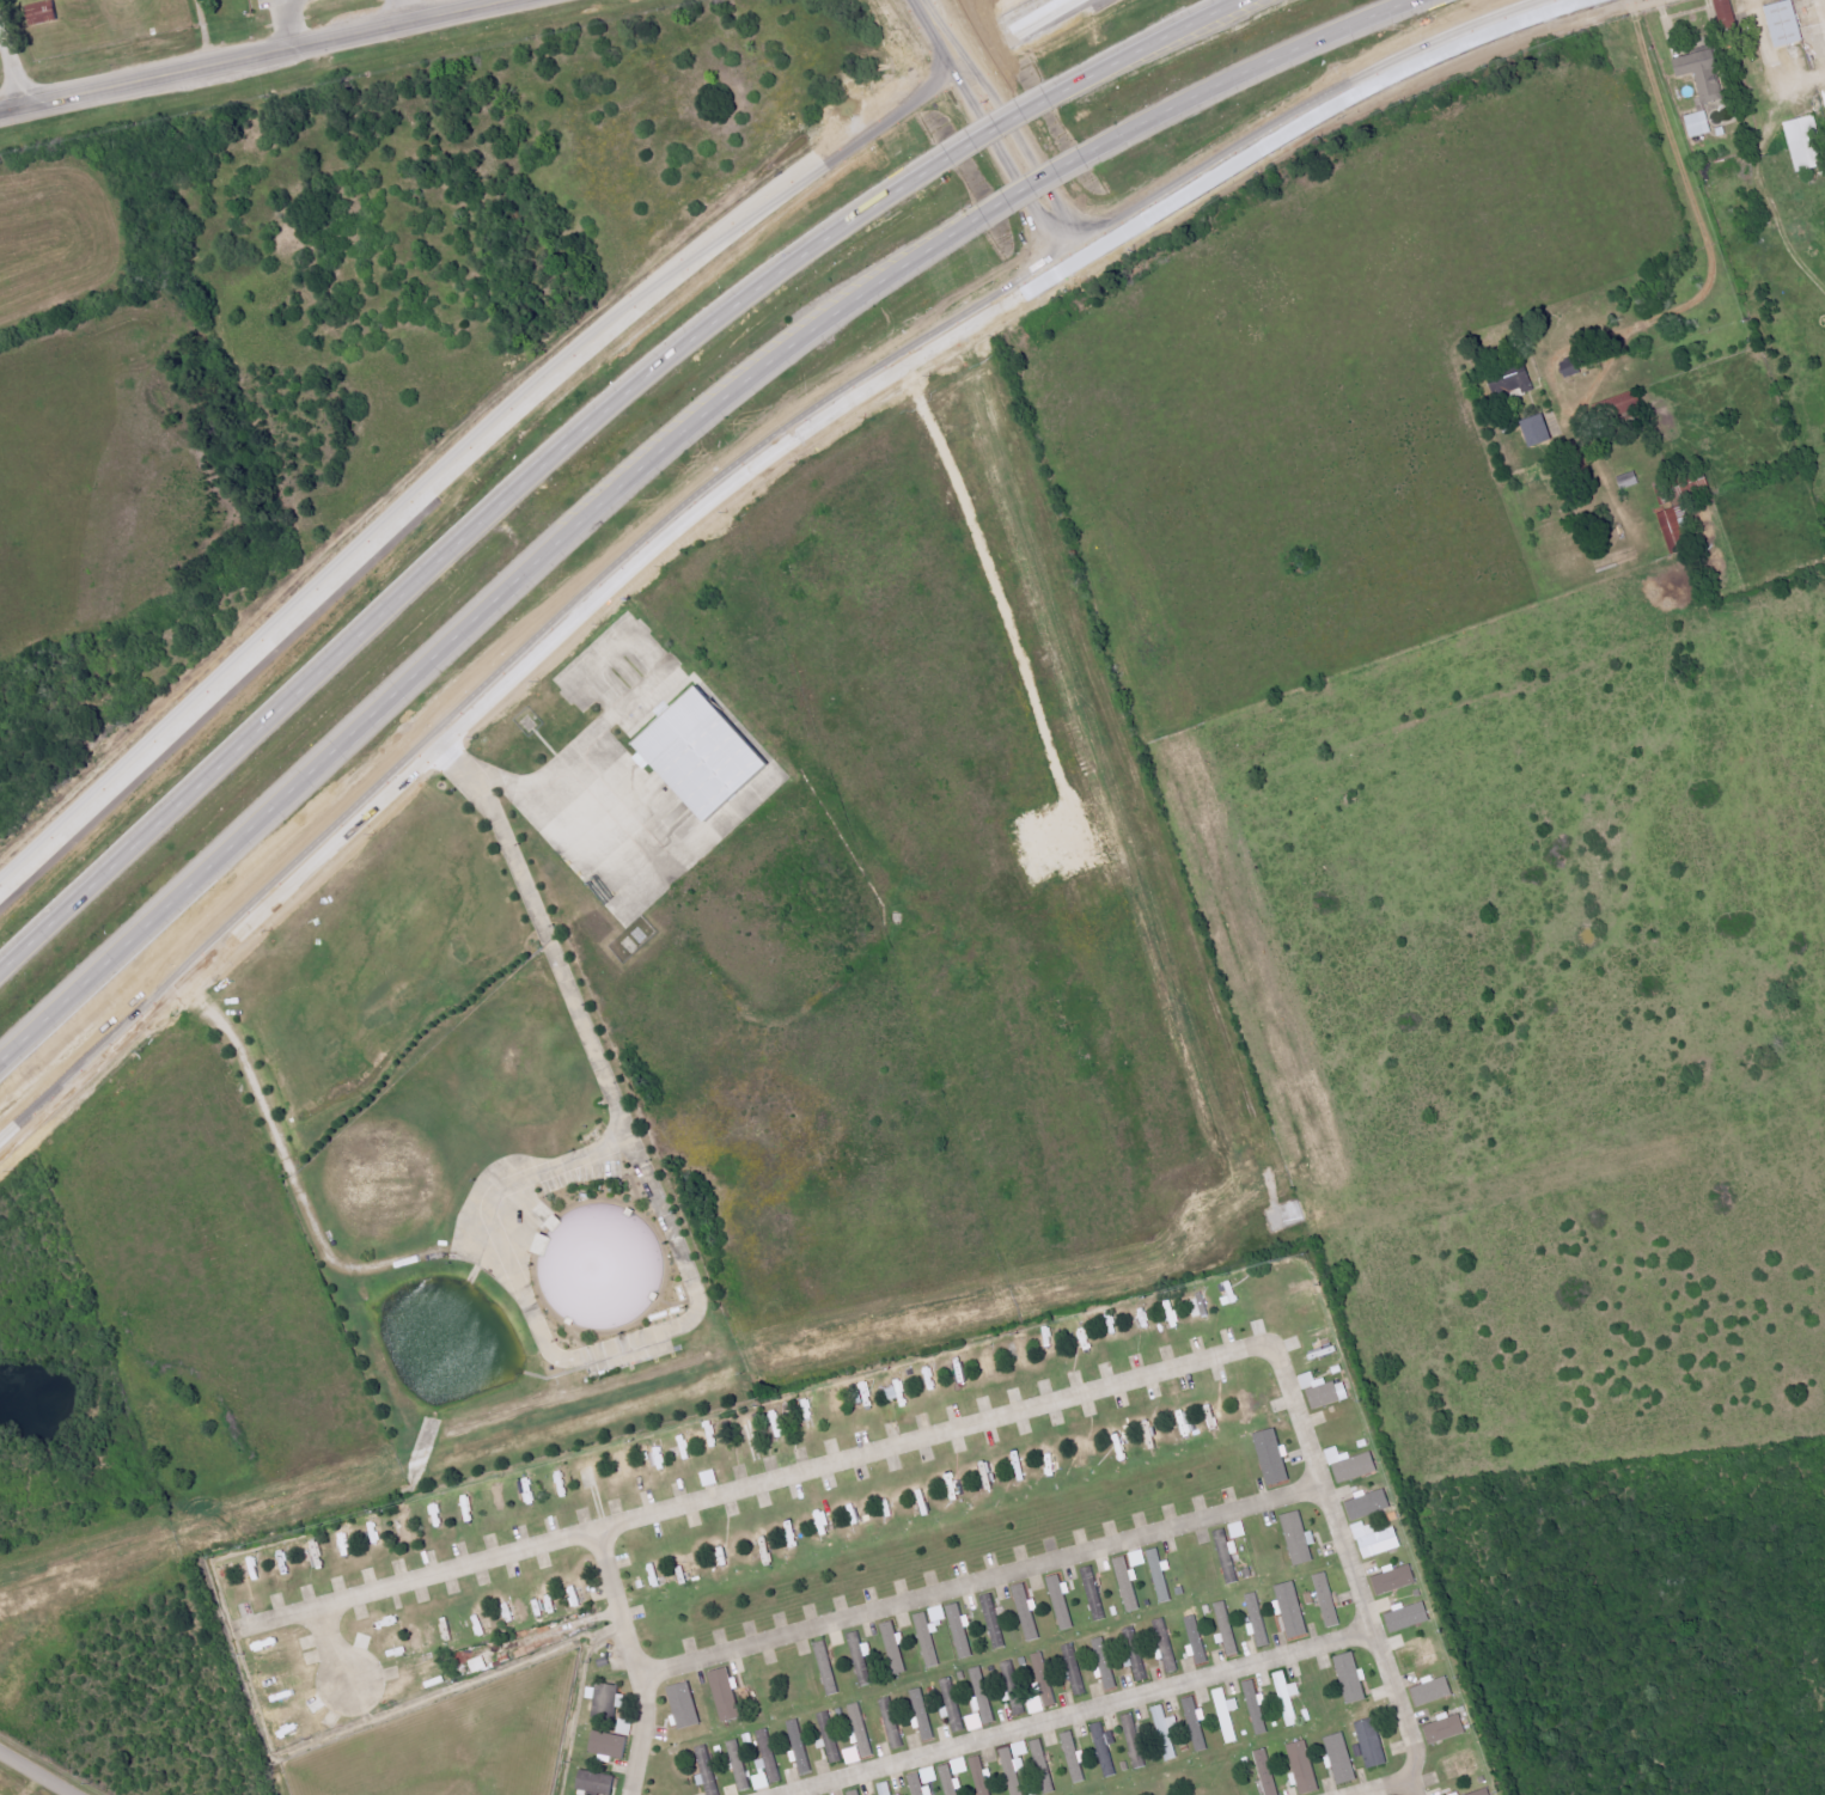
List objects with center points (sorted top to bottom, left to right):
building: (43, 13)
road: (402, 13)
building: (1727, 14)
building: (1786, 24)
road: (289, 25)
road: (1192, 30)
road: (1290, 49)
road: (1760, 53)
road: (256, 60)
road: (1814, 71)
road: (11, 73)
building: (1704, 78)
road: (1343, 92)
road: (1118, 106)
road: (1044, 111)
road: (1056, 114)
building: (1699, 124)
building: (1805, 145)
road: (1082, 153)
road: (1003, 166)
road: (1704, 224)
building: (1571, 368)
building: (1513, 381)
building: (1623, 404)
road: (512, 414)
building: (1538, 431)
building: (1629, 480)
building: (1676, 531)
road: (458, 537)
road: (481, 612)
road: (529, 657)
road: (578, 743)
building: (701, 753)
road: (617, 819)
road: (529, 1176)
building: (1200, 1306)
building: (1173, 1314)
building: (1318, 1332)
road: (630, 1342)
building: (1324, 1391)
building: (898, 1394)
building: (837, 1402)
building: (779, 1423)
building: (749, 1429)
building: (1272, 1455)
building: (1351, 1465)
building: (710, 1478)
road: (752, 1485)
building: (1369, 1504)
building: (1238, 1530)
building: (1298, 1538)
building: (1377, 1539)
road: (1350, 1557)
building: (1139, 1558)
building: (1155, 1575)
building: (1394, 1579)
road: (984, 1581)
building: (1128, 1583)
building: (1094, 1593)
building: (1327, 1600)
building: (1061, 1601)
building: (521, 1608)
building: (1027, 1612)
building: (1288, 1614)
building: (1408, 1617)
building: (1257, 1619)
building: (994, 1620)
building: (1227, 1629)
building: (962, 1630)
building: (930, 1632)
building: (1165, 1642)
road: (334, 1647)
building: (895, 1647)
building: (862, 1656)
road: (637, 1660)
building: (1105, 1662)
building: (478, 1665)
building: (1137, 1665)
building: (828, 1667)
building: (1075, 1669)
building: (1351, 1678)
building: (1045, 1679)
building: (1015, 1689)
building: (1433, 1691)
building: (726, 1695)
building: (983, 1696)
building: (1288, 1697)
building: (606, 1699)
building: (1037, 1704)
building: (685, 1705)
building: (953, 1705)
building: (1257, 1707)
road: (1084, 1712)
building: (1227, 1714)
building: (922, 1715)
building: (886, 1721)
building: (975, 1722)
building: (1197, 1722)
building: (623, 1726)
building: (1446, 1729)
building: (1167, 1733)
building: (830, 1736)
building: (1135, 1740)
building: (1372, 1742)
building: (609, 1744)
building: (799, 1745)
building: (1104, 1750)
building: (853, 1756)
building: (1074, 1757)
building: (1342, 1758)
building: (767, 1763)
building: (740, 1765)
building: (960, 1766)
building: (1015, 1766)
building: (1044, 1766)
building: (1305, 1766)
building: (707, 1770)
building: (1268, 1771)
road: (36, 1772)
building: (930, 1775)
building: (981, 1776)
building: (950, 1779)
building: (597, 1782)
road: (1415, 1784)
building: (920, 1785)
road: (1386, 1787)
building: (886, 1788)
building: (1483, 1791)
building: (855, 1793)

